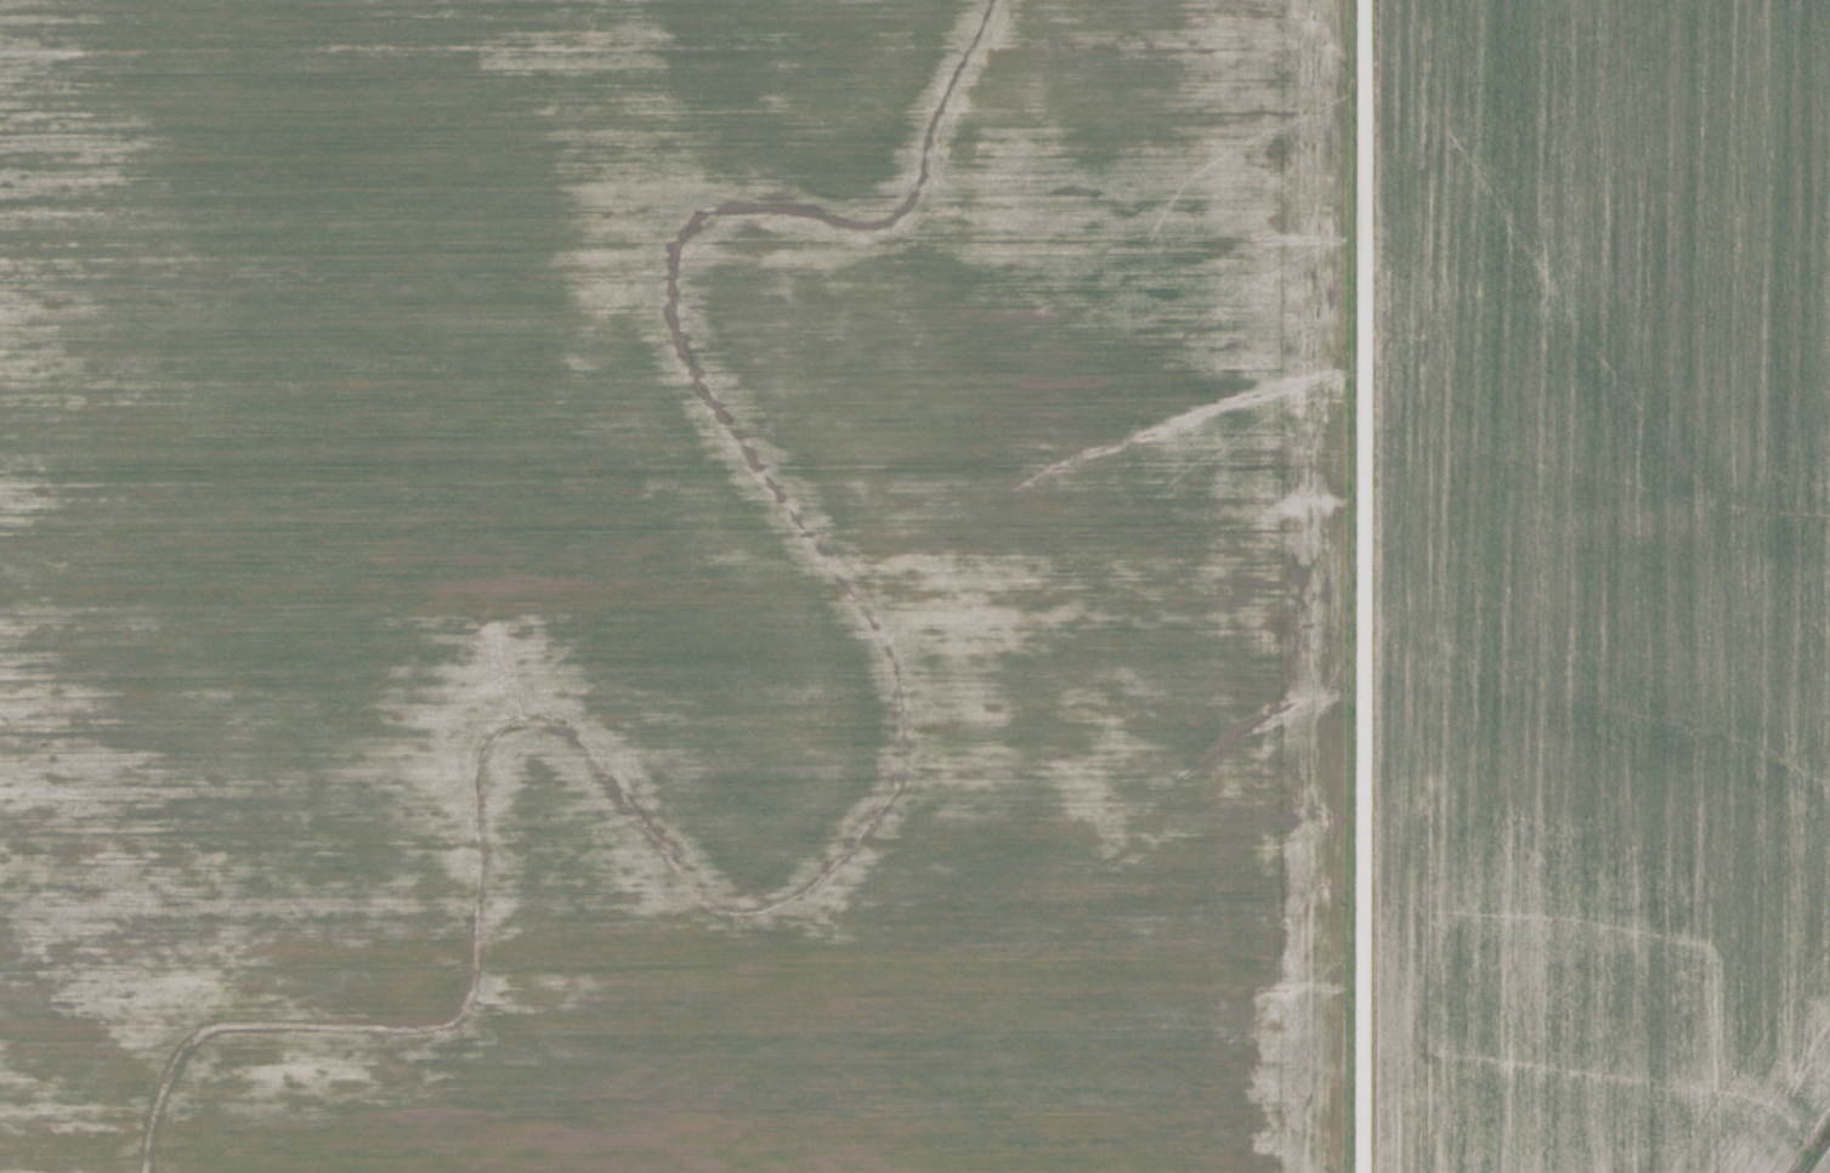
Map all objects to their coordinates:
road: (1304, 586)

